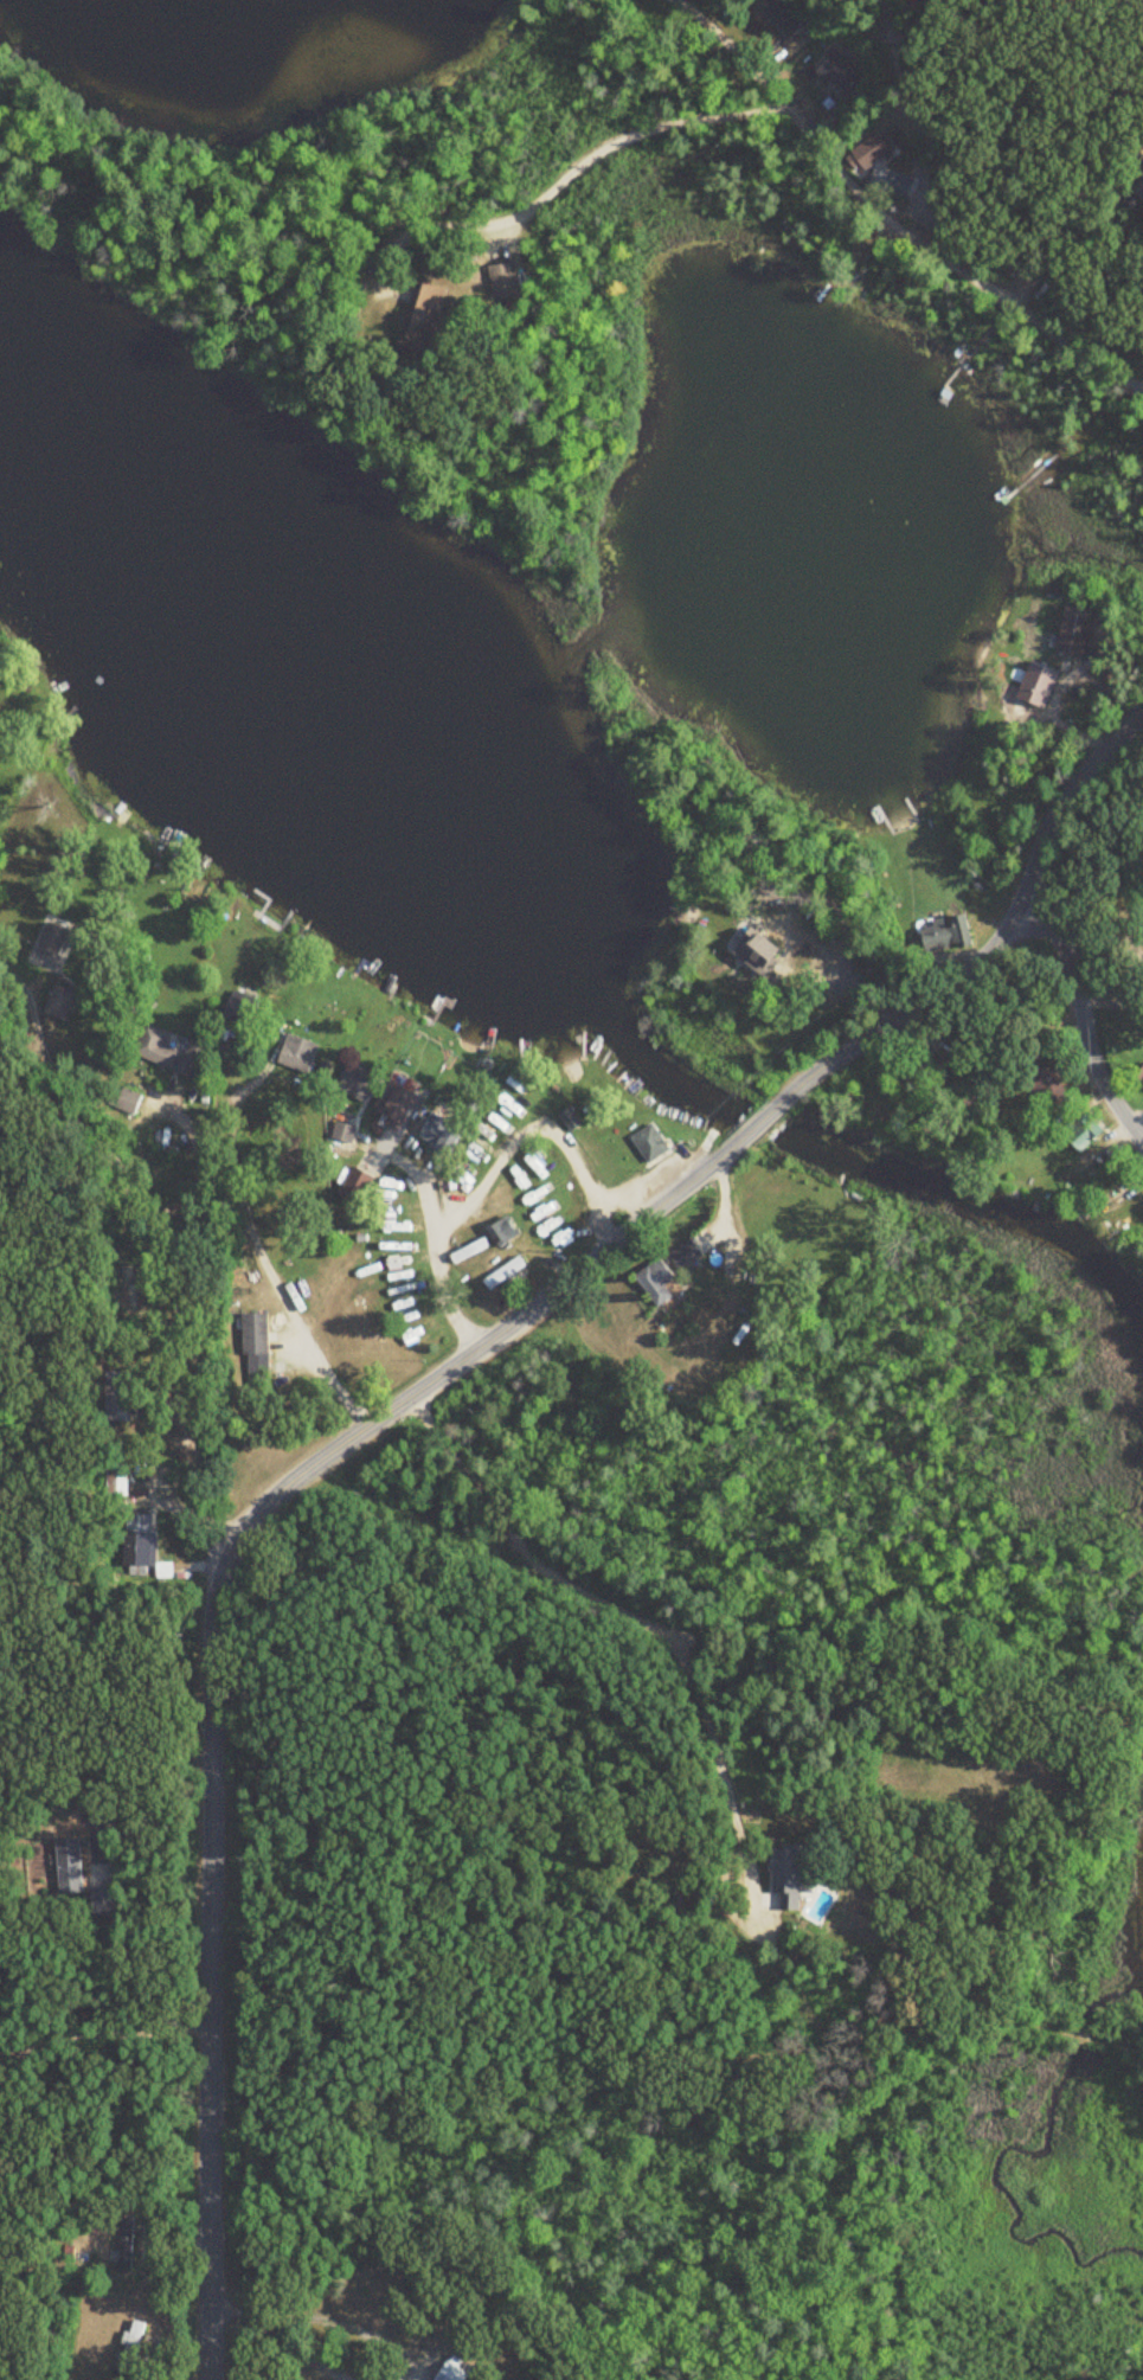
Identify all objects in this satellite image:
building: (777, 17)
building: (834, 75)
road: (630, 133)
building: (860, 158)
building: (887, 184)
building: (1138, 186)
road: (890, 218)
building: (506, 282)
building: (428, 319)
building: (1071, 635)
building: (1035, 686)
road: (1032, 874)
building: (942, 932)
building: (56, 937)
building: (60, 1002)
building: (243, 1009)
road: (1084, 1019)
road: (923, 1035)
building: (167, 1050)
building: (300, 1054)
building: (226, 1057)
building: (922, 1073)
building: (1139, 1076)
building: (1035, 1077)
building: (129, 1102)
building: (398, 1104)
building: (572, 1116)
road: (751, 1123)
building: (346, 1133)
building: (1077, 1134)
building: (443, 1135)
building: (653, 1140)
road: (492, 1172)
building: (359, 1185)
road: (426, 1185)
building: (405, 1227)
building: (508, 1231)
building: (471, 1250)
road: (256, 1255)
building: (687, 1255)
building: (508, 1272)
building: (406, 1278)
building: (663, 1281)
road: (163, 1288)
building: (129, 1292)
building: (419, 1329)
building: (257, 1349)
building: (121, 1396)
building: (120, 1480)
building: (145, 1547)
road: (609, 1603)
road: (211, 1719)
road: (136, 1784)
building: (71, 1866)
building: (790, 1875)
building: (105, 1901)
road: (113, 2032)
road: (8, 2051)
road: (8, 2058)
building: (128, 2245)
building: (133, 2347)

